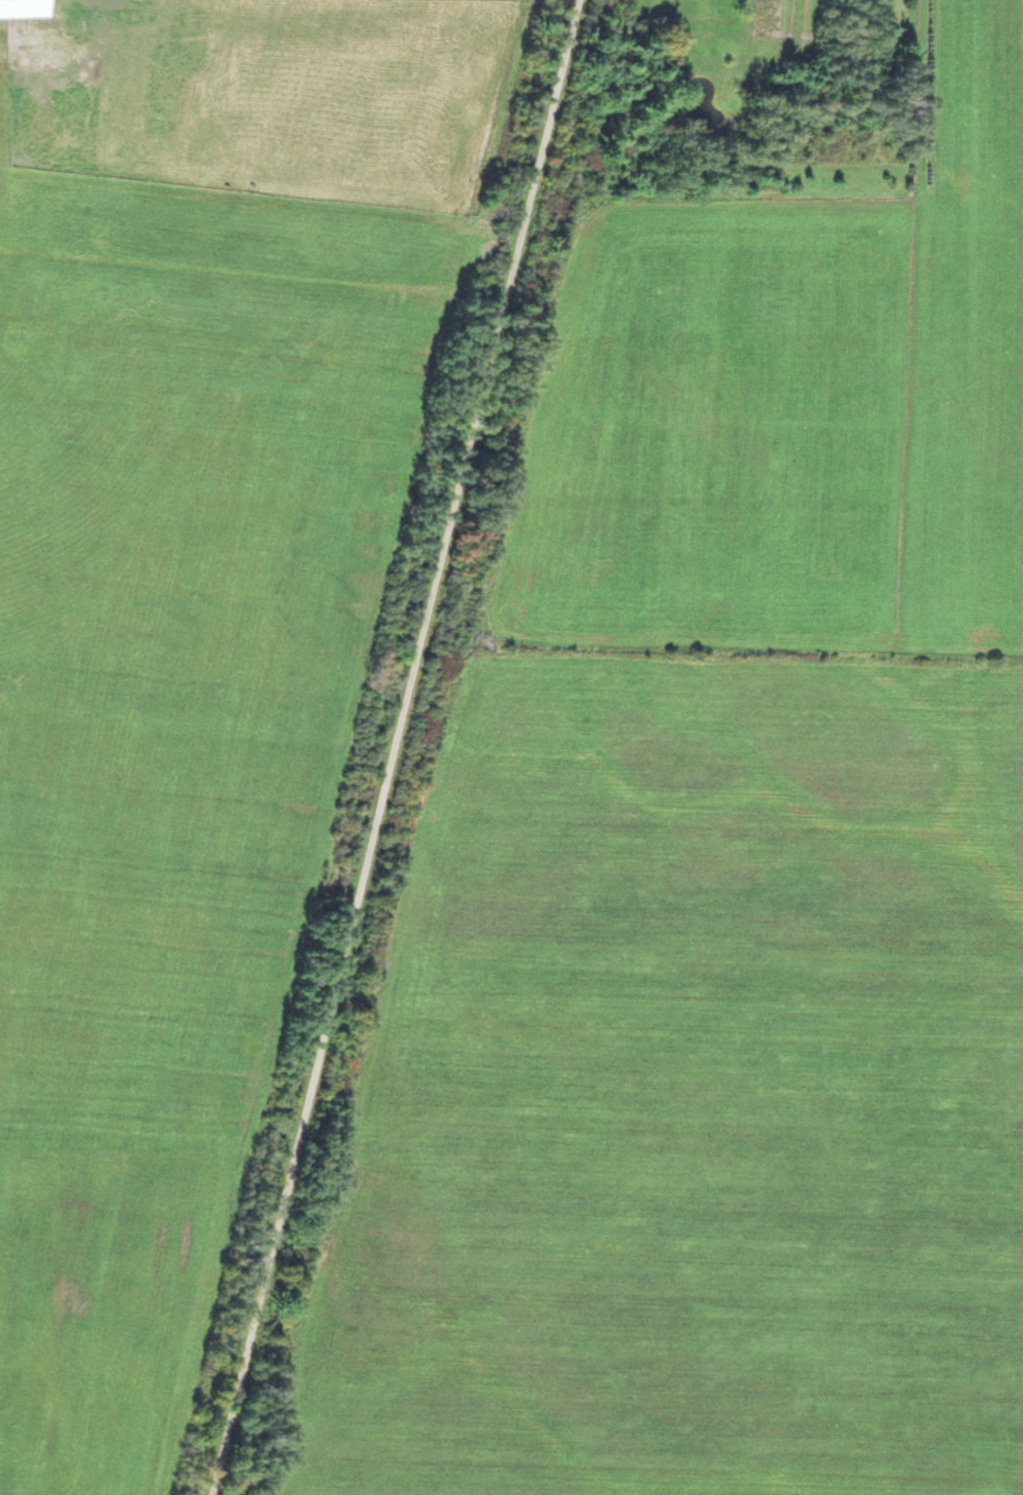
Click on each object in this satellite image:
building: (20, 7)
road: (394, 748)

